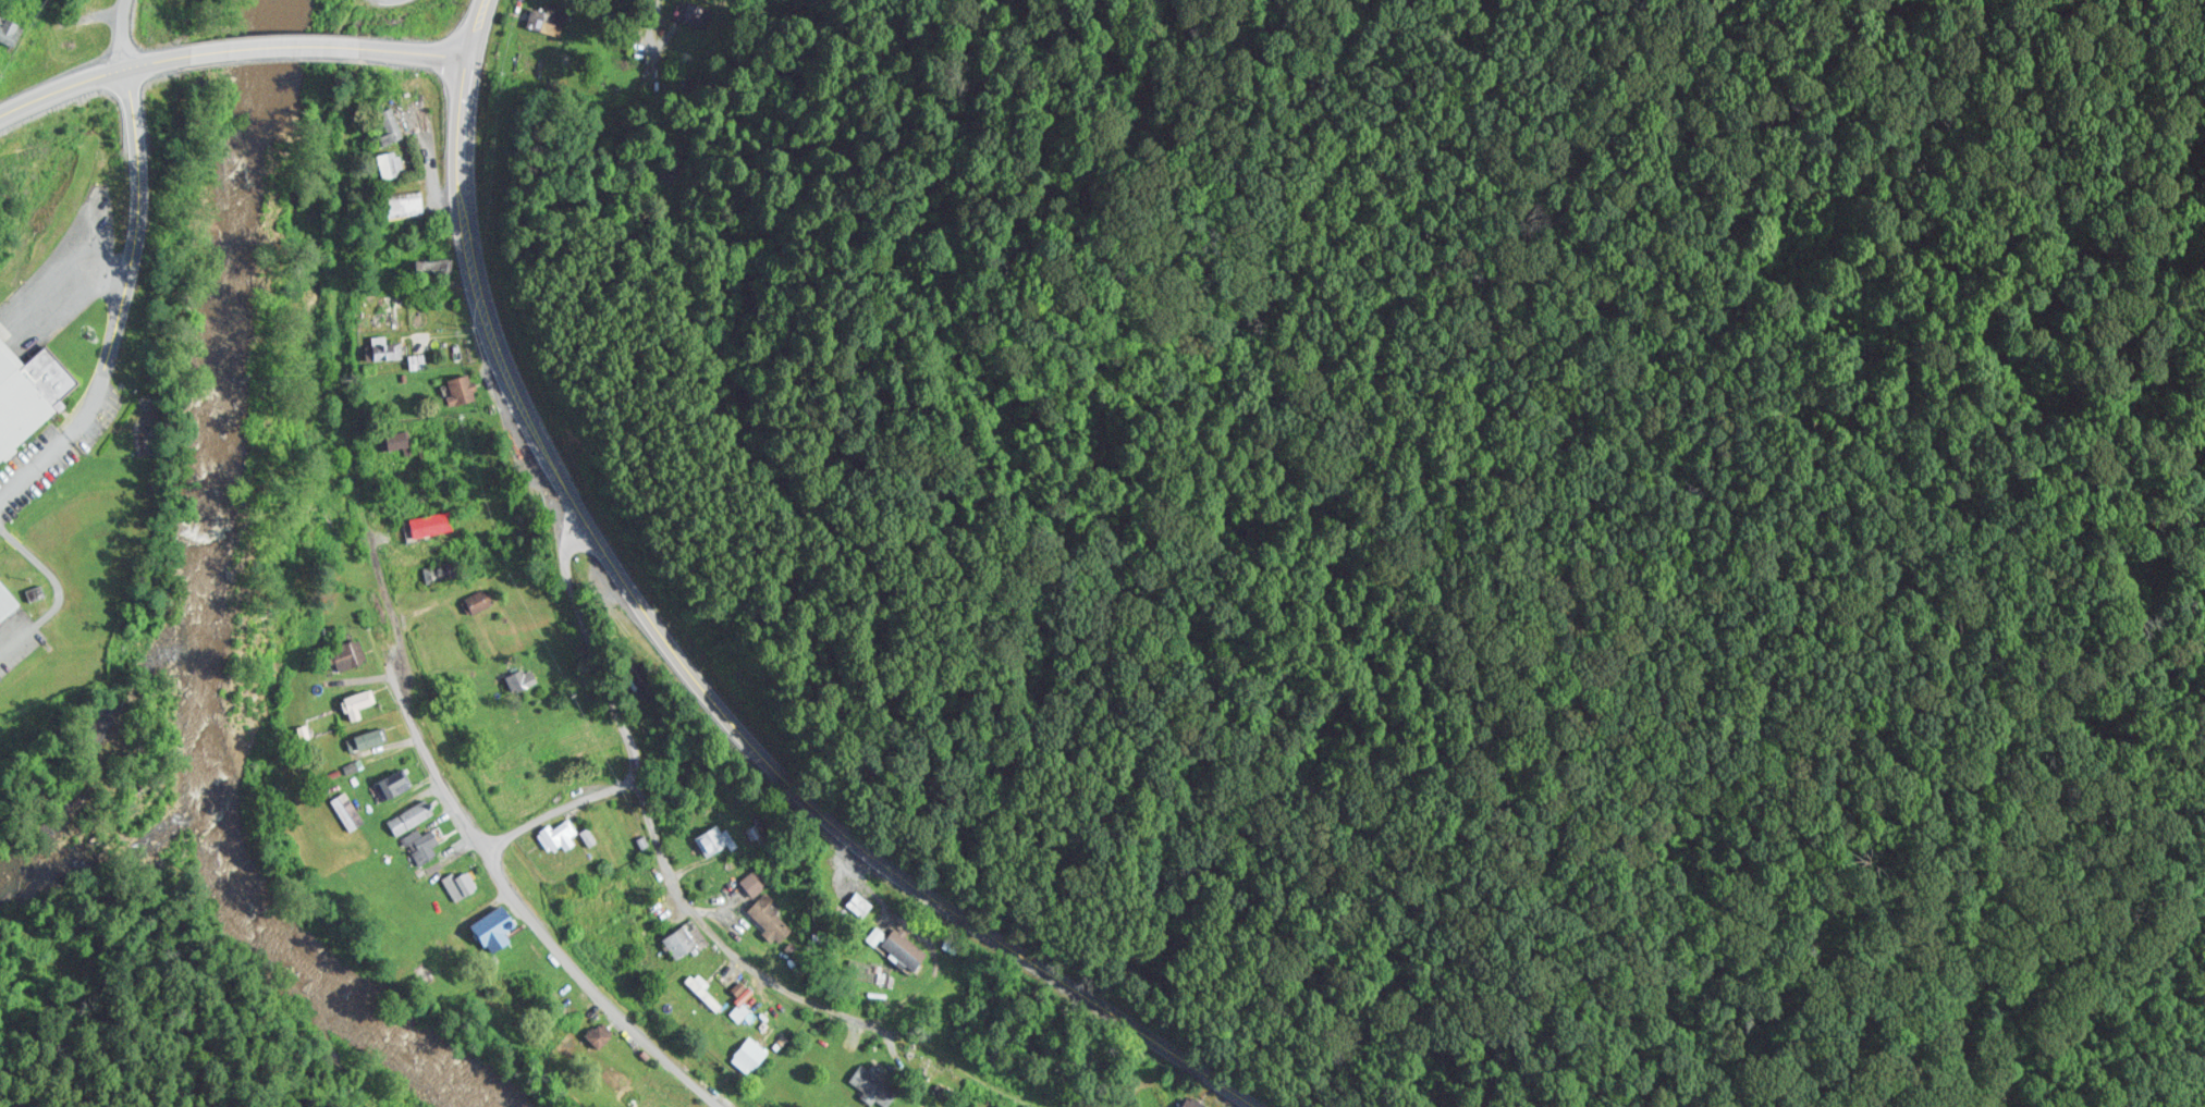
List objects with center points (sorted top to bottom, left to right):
building: (693, 10)
road: (471, 26)
building: (11, 29)
road: (130, 33)
road: (224, 49)
building: (390, 123)
building: (389, 162)
building: (408, 201)
building: (438, 263)
building: (391, 309)
road: (338, 325)
building: (380, 341)
building: (463, 389)
building: (29, 393)
building: (396, 438)
building: (430, 522)
building: (445, 568)
river: (169, 593)
building: (8, 599)
building: (479, 599)
road: (589, 644)
building: (350, 652)
building: (522, 677)
building: (647, 685)
road: (706, 688)
building: (359, 702)
building: (368, 737)
building: (394, 783)
road: (558, 804)
building: (350, 810)
building: (413, 814)
building: (756, 831)
building: (559, 834)
building: (713, 839)
building: (424, 842)
building: (461, 883)
building: (767, 903)
road: (522, 905)
building: (499, 924)
building: (686, 938)
road: (721, 943)
building: (907, 946)
building: (705, 988)
building: (742, 1009)
building: (752, 1053)
building: (874, 1084)
building: (1196, 1102)

